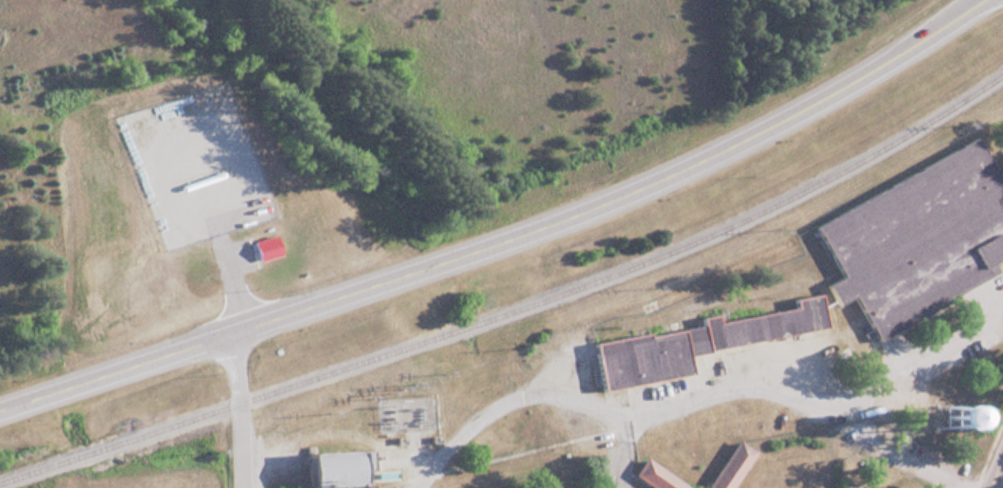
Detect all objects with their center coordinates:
building: (914, 236)
road: (502, 238)
railway: (514, 306)
building: (690, 341)
road: (923, 362)
road: (676, 402)
road: (239, 409)
water tower: (941, 416)
road: (994, 466)
building: (329, 467)

